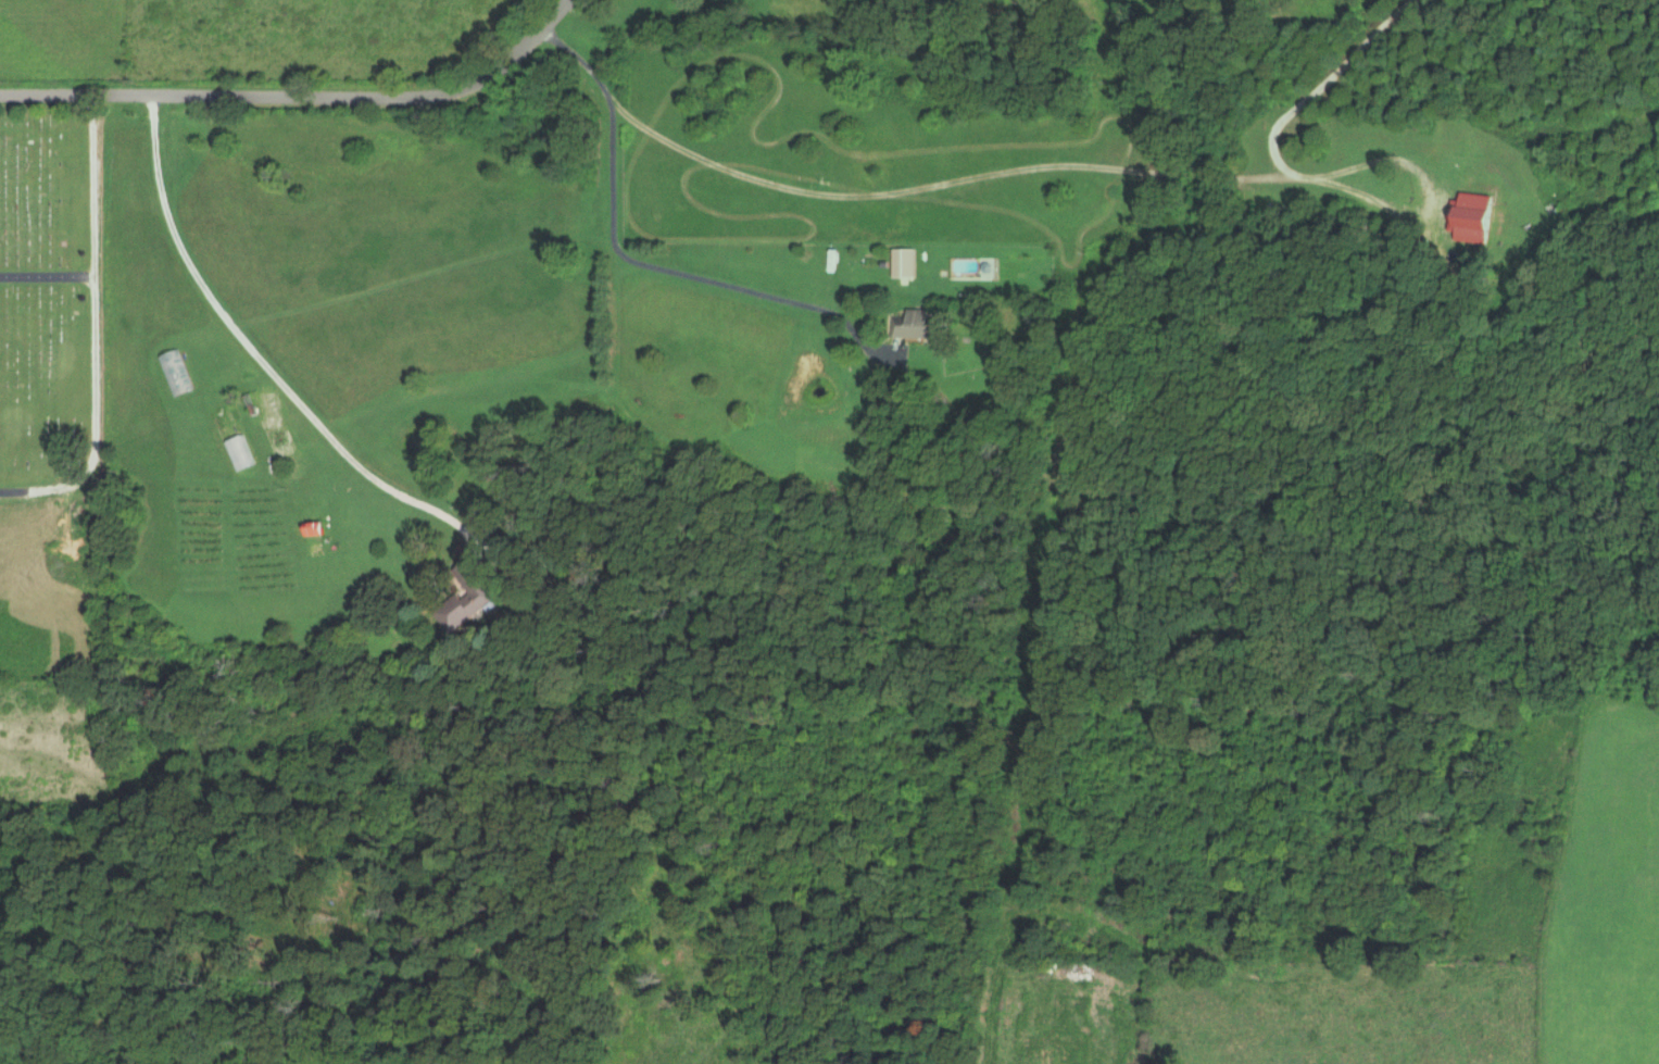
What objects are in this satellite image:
road: (298, 97)
road: (1304, 111)
building: (1475, 217)
road: (639, 261)
building: (904, 262)
road: (47, 274)
park: (51, 299)
building: (915, 324)
road: (93, 327)
road: (261, 360)
building: (472, 603)

